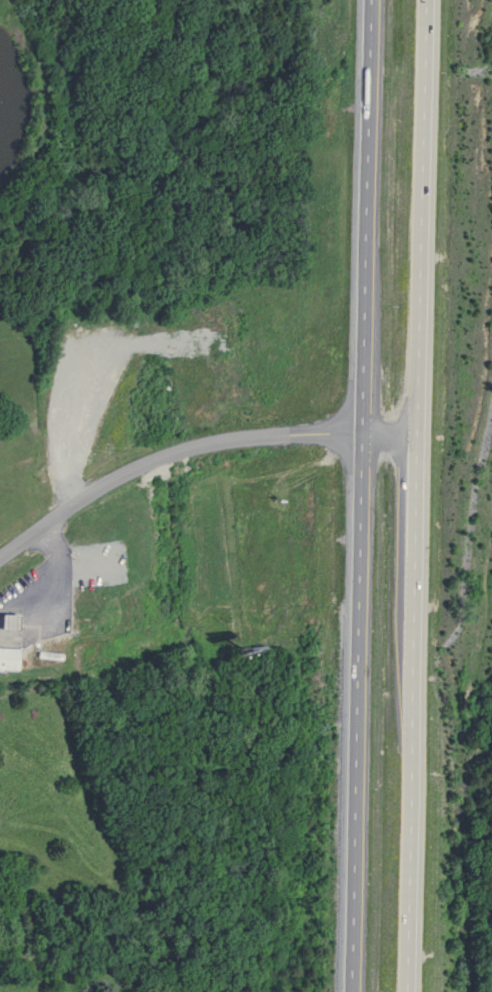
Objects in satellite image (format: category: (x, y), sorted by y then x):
road: (194, 446)
road: (358, 495)
road: (417, 495)
road: (45, 577)
building: (7, 659)
park: (477, 849)

